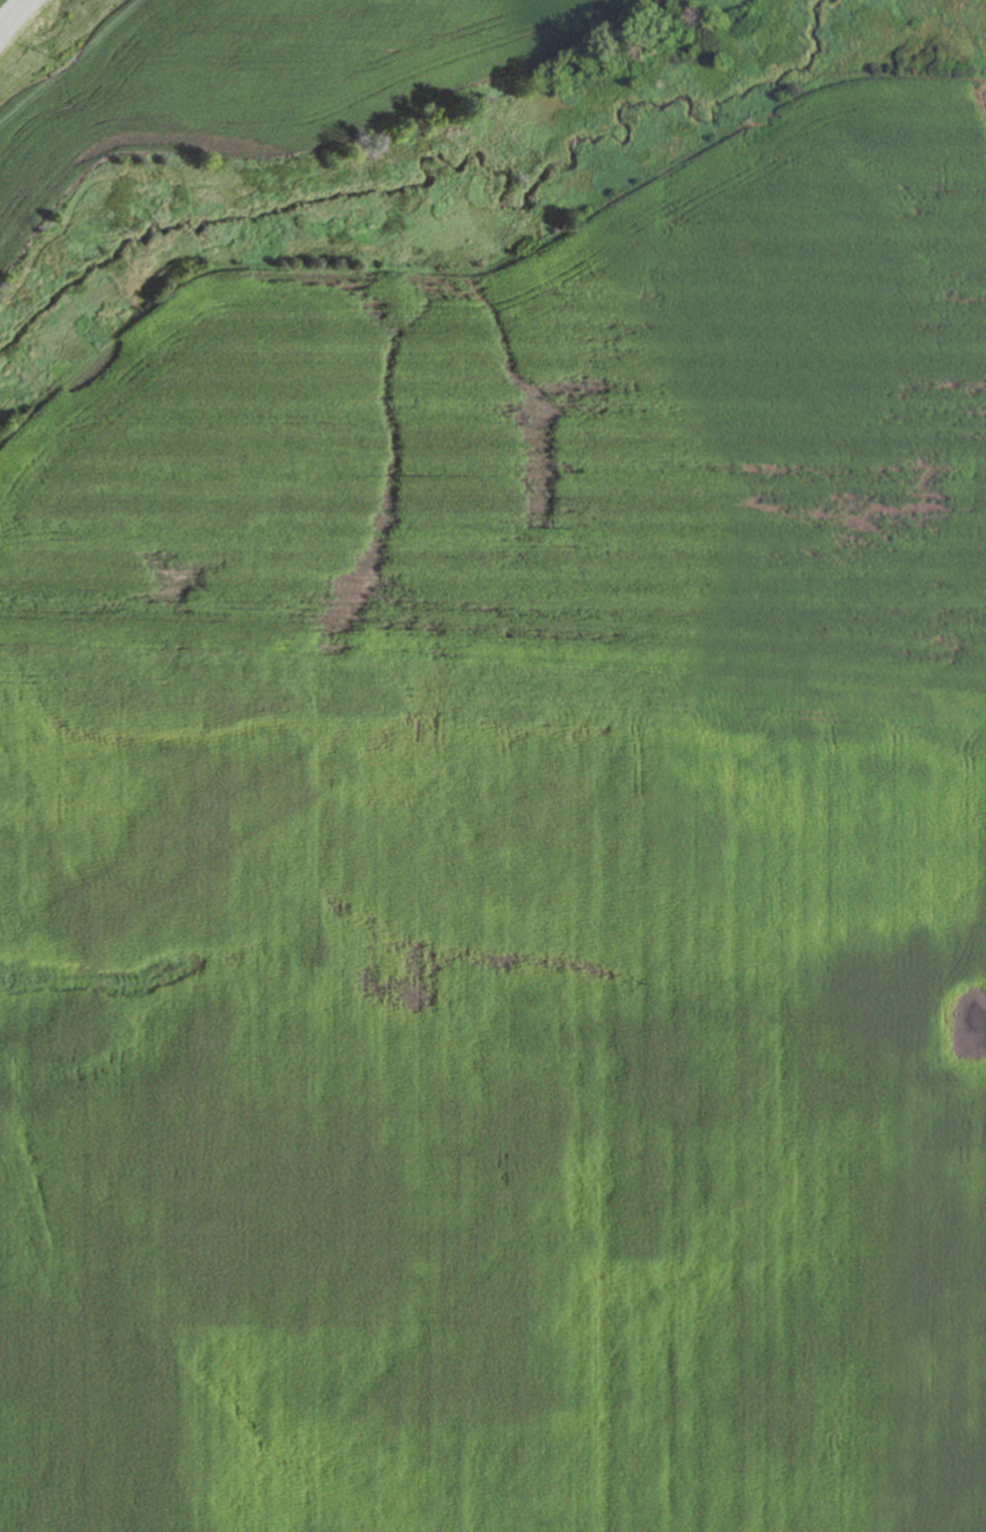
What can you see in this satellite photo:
road: (10, 11)

